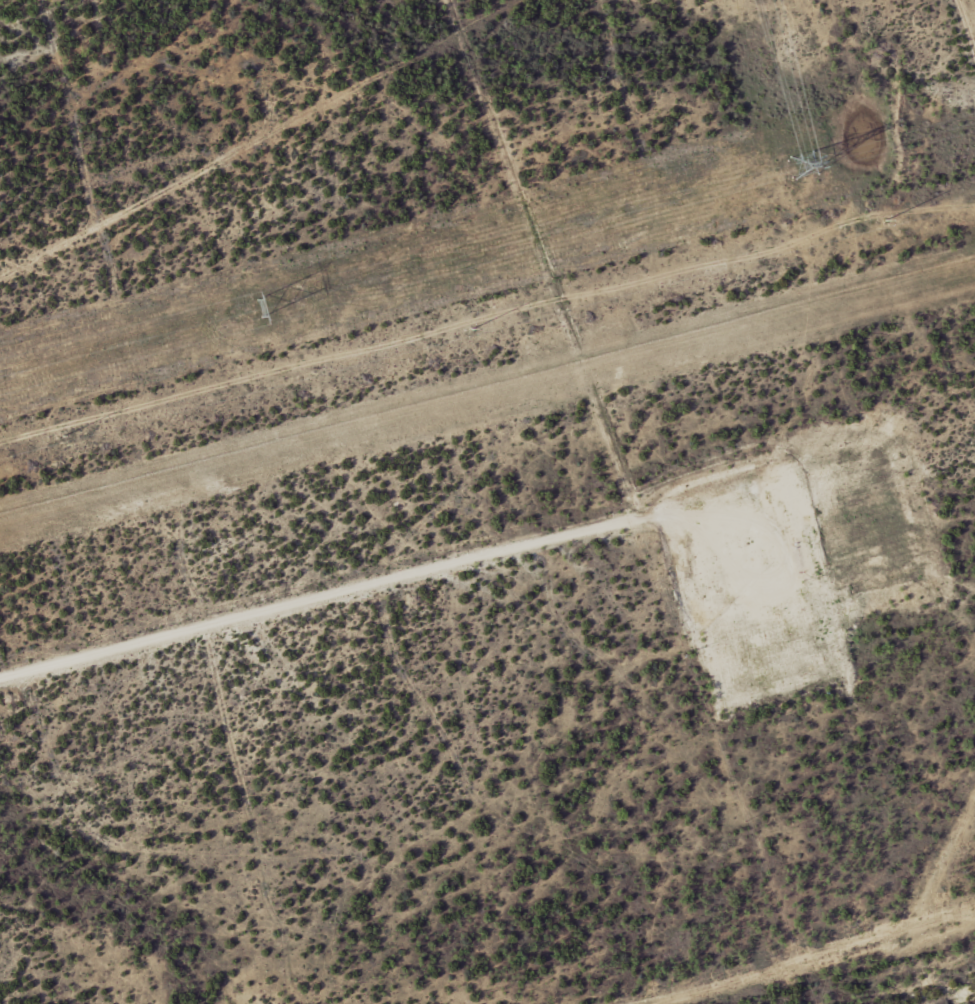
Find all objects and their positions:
power tower: (797, 161)
power tower: (885, 221)
power tower: (260, 303)
power tower: (472, 329)
power tower: (64, 437)

